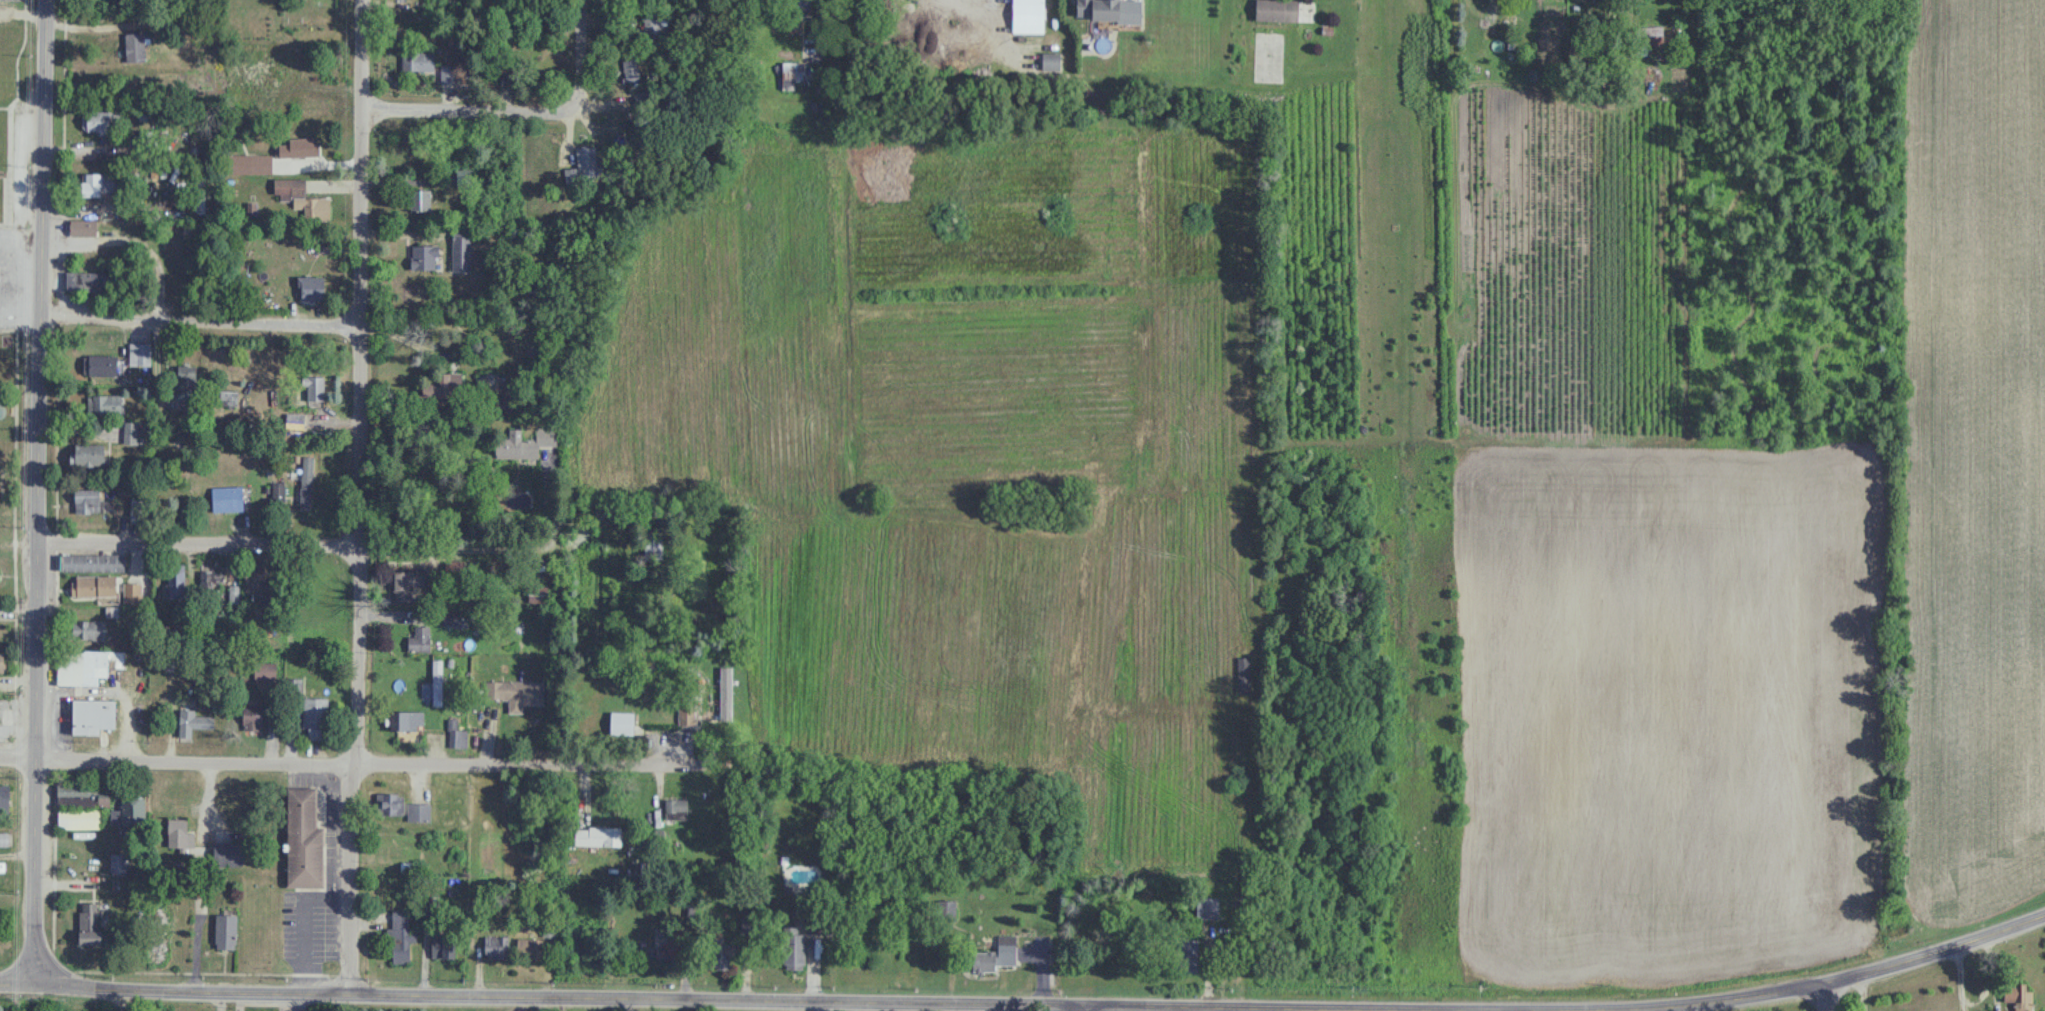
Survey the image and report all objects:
building: (804, 4)
building: (1097, 9)
building: (1276, 10)
building: (1027, 14)
road: (979, 21)
building: (655, 28)
building: (1650, 34)
building: (1556, 46)
building: (135, 48)
road: (578, 53)
building: (417, 61)
building: (630, 70)
building: (447, 74)
building: (793, 74)
road: (468, 116)
building: (95, 121)
building: (304, 147)
building: (243, 164)
building: (584, 164)
building: (98, 184)
building: (291, 190)
building: (199, 194)
building: (420, 200)
building: (82, 227)
road: (22, 245)
building: (461, 253)
building: (424, 257)
road: (15, 272)
road: (34, 272)
building: (86, 282)
building: (311, 288)
road: (18, 312)
road: (197, 327)
road: (462, 330)
building: (140, 354)
building: (100, 365)
building: (186, 379)
building: (444, 386)
building: (312, 388)
building: (103, 405)
building: (131, 434)
building: (523, 443)
building: (86, 455)
road: (34, 496)
building: (227, 500)
building: (86, 501)
road: (357, 505)
road: (293, 550)
building: (92, 563)
building: (211, 579)
building: (254, 579)
building: (175, 580)
building: (406, 584)
building: (93, 586)
building: (137, 593)
building: (537, 594)
building: (90, 630)
building: (419, 639)
building: (1, 662)
building: (86, 667)
building: (265, 670)
building: (1243, 675)
building: (437, 683)
building: (516, 695)
building: (702, 714)
building: (92, 715)
building: (315, 718)
building: (250, 720)
building: (406, 720)
building: (192, 722)
building: (456, 735)
road: (332, 769)
road: (1271, 784)
building: (4, 798)
building: (389, 803)
building: (675, 809)
building: (130, 813)
building: (78, 818)
building: (176, 834)
building: (597, 836)
building: (4, 839)
building: (303, 839)
building: (227, 853)
building: (4, 877)
building: (1207, 908)
building: (88, 923)
building: (226, 931)
building: (401, 935)
building: (496, 947)
building: (793, 947)
building: (529, 948)
building: (442, 950)
building: (665, 951)
building: (718, 954)
building: (996, 955)
building: (1186, 955)
road: (1872, 978)
road: (1966, 981)
road: (16, 993)
road: (1866, 995)
road: (1826, 1000)
road: (34, 1002)
road: (480, 1003)
road: (825, 1010)

